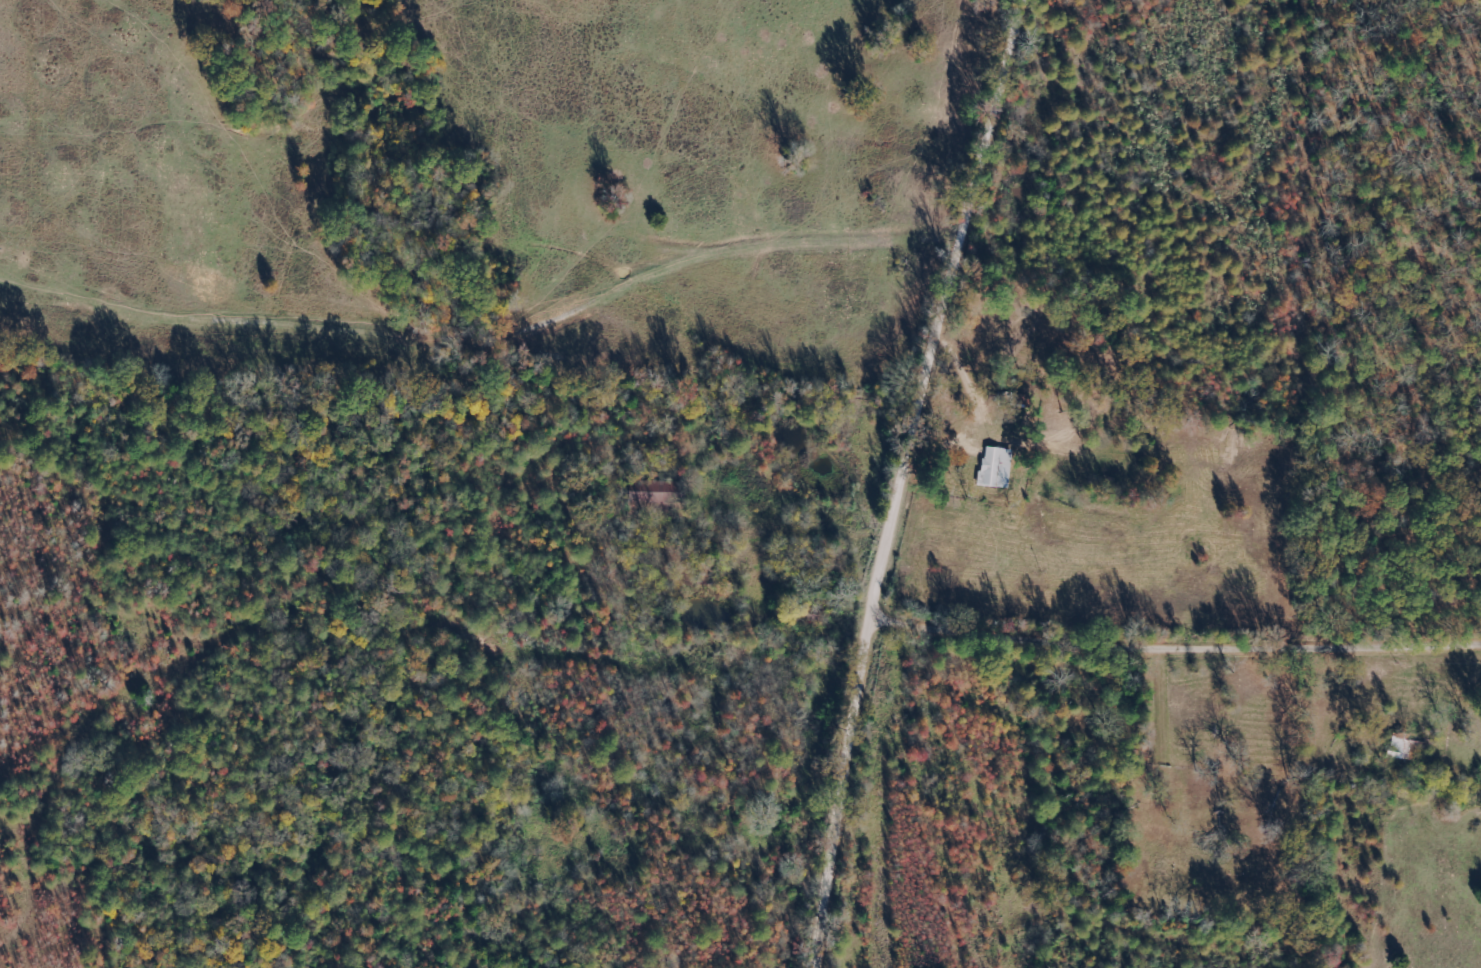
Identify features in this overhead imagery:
building: (994, 468)
road: (909, 478)
road: (1178, 652)
park: (1201, 847)

